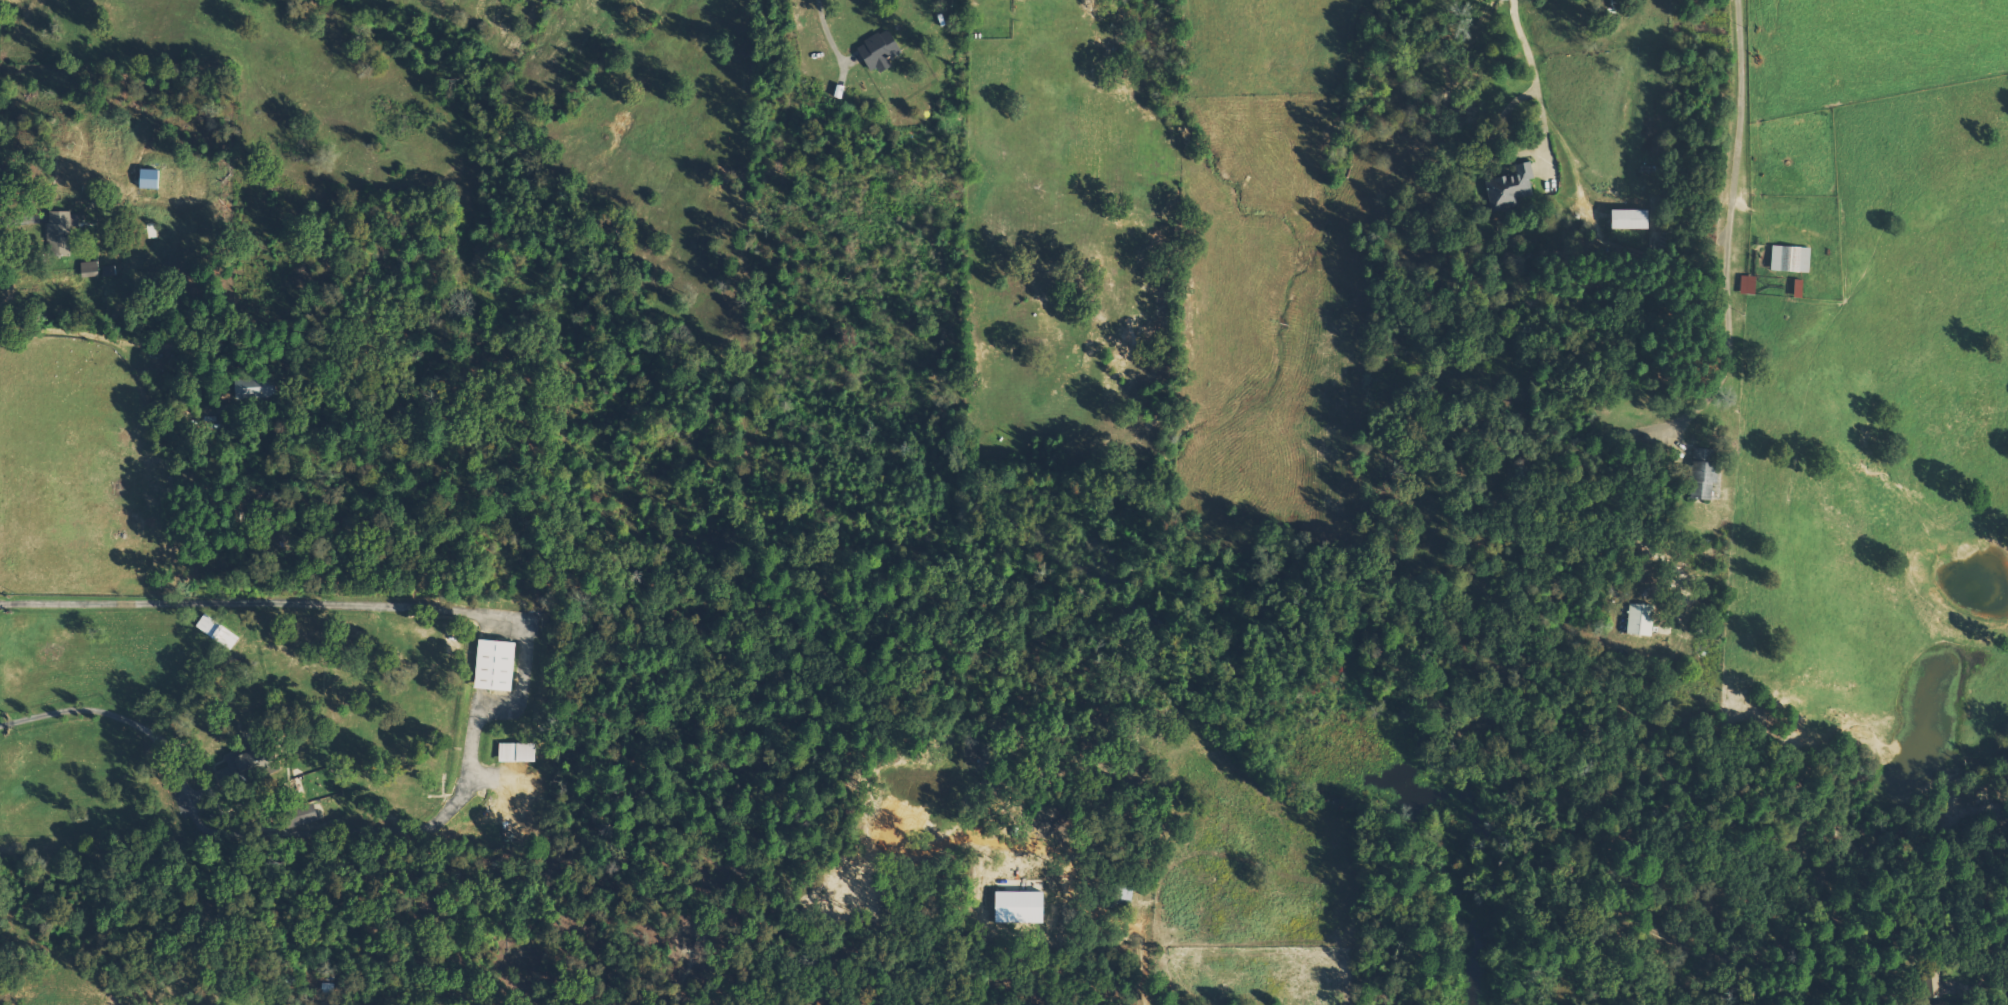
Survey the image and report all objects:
road: (823, 32)
building: (875, 51)
building: (146, 179)
building: (1509, 187)
building: (1624, 219)
building: (57, 230)
building: (1788, 259)
building: (87, 269)
building: (107, 270)
building: (1746, 285)
building: (248, 389)
building: (1699, 474)
building: (1637, 620)
building: (214, 633)
building: (492, 665)
building: (427, 683)
building: (513, 753)
building: (303, 814)
building: (1014, 908)
building: (1939, 1003)

